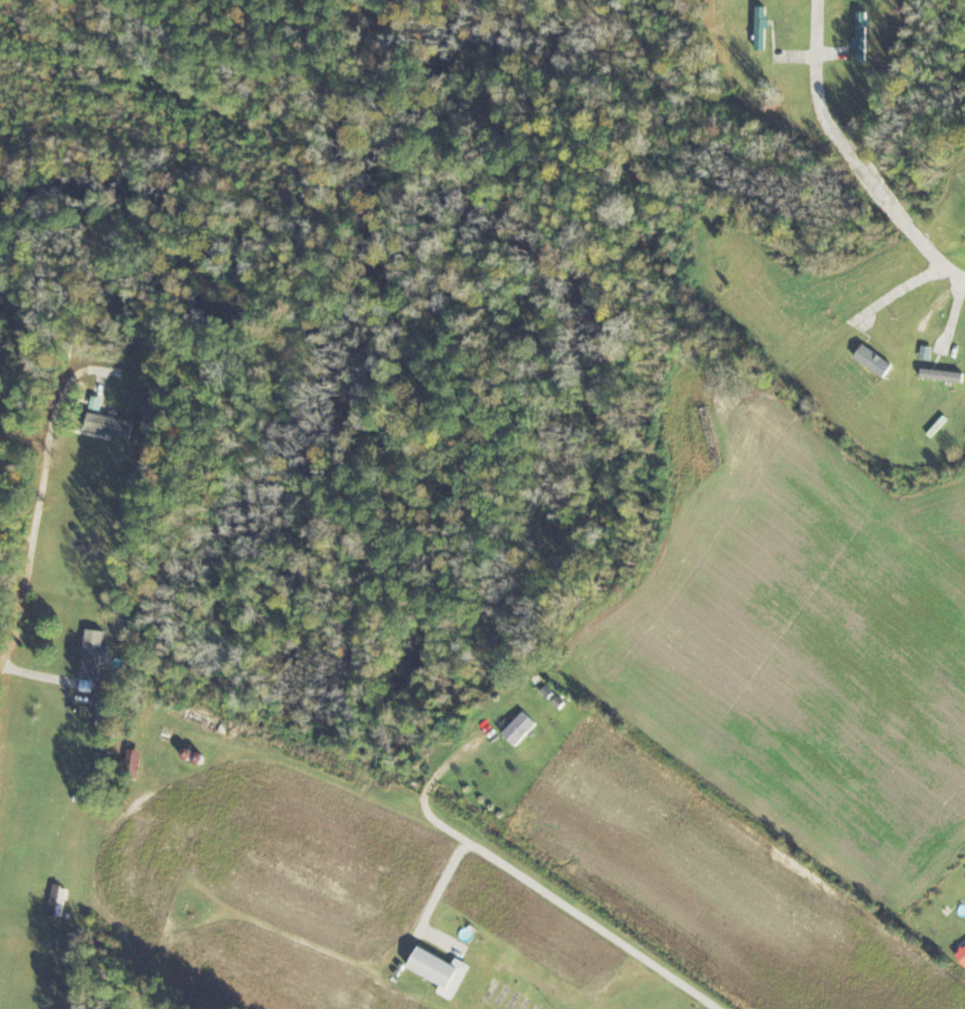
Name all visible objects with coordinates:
building: (764, 26)
building: (865, 34)
road: (854, 155)
road: (896, 291)
building: (944, 374)
building: (114, 424)
road: (32, 514)
building: (96, 654)
building: (523, 727)
road: (536, 888)
road: (429, 898)
building: (60, 899)
building: (963, 954)
building: (440, 966)

